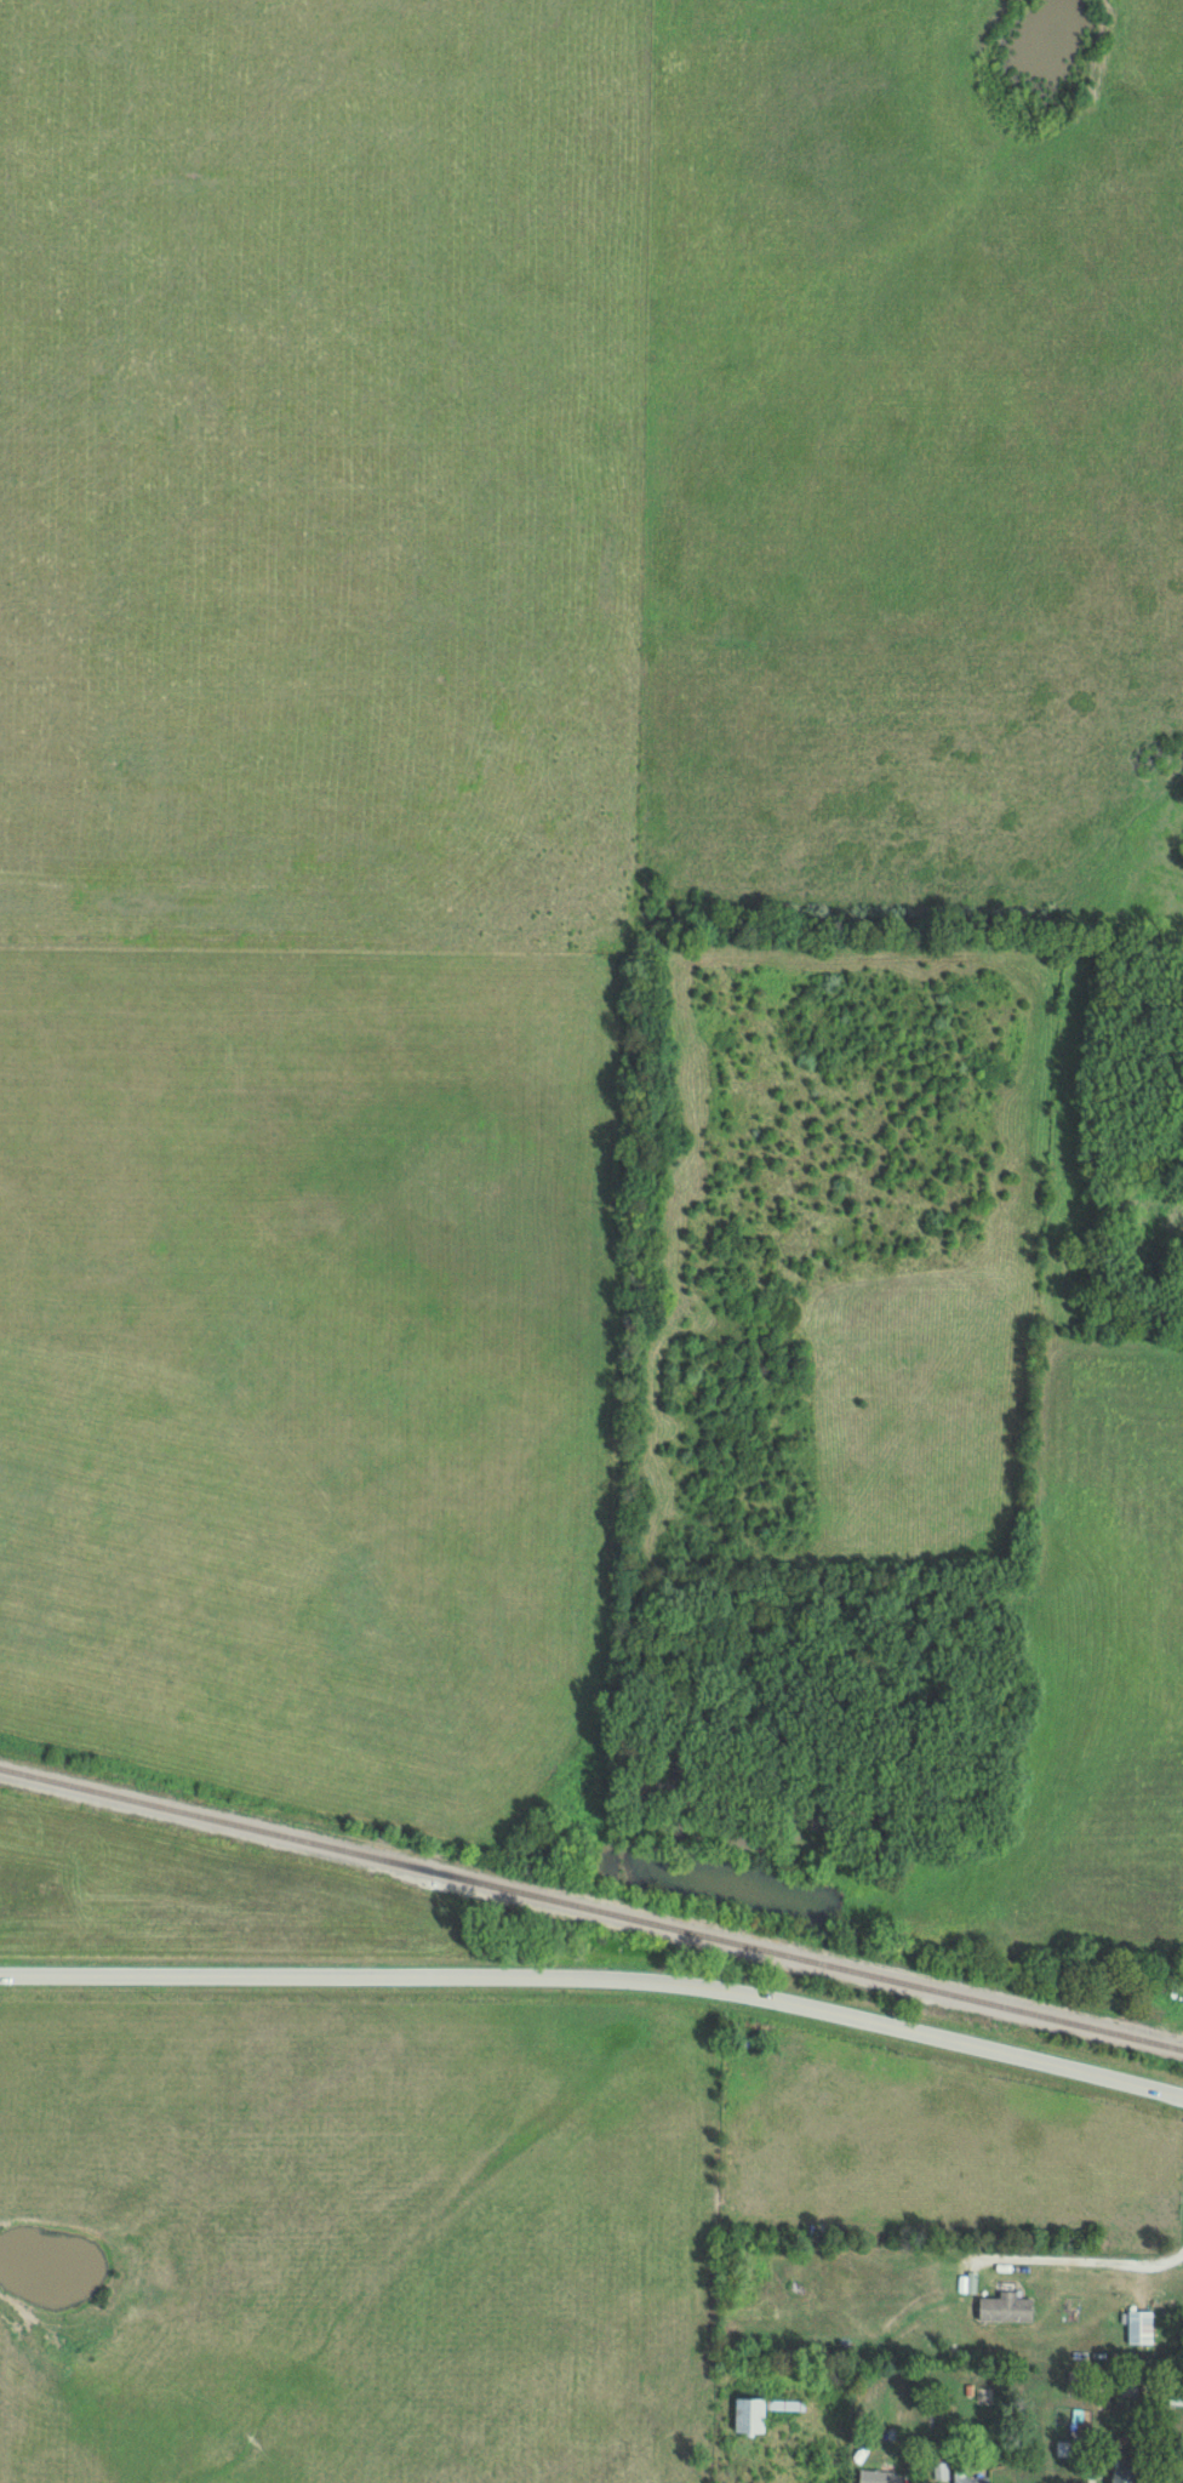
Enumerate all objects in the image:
railway: (590, 1911)
road: (598, 1979)
road: (1079, 2254)
building: (1007, 2308)
building: (1142, 2327)
building: (751, 2416)
building: (1126, 2473)
building: (878, 2477)
building: (970, 2478)

